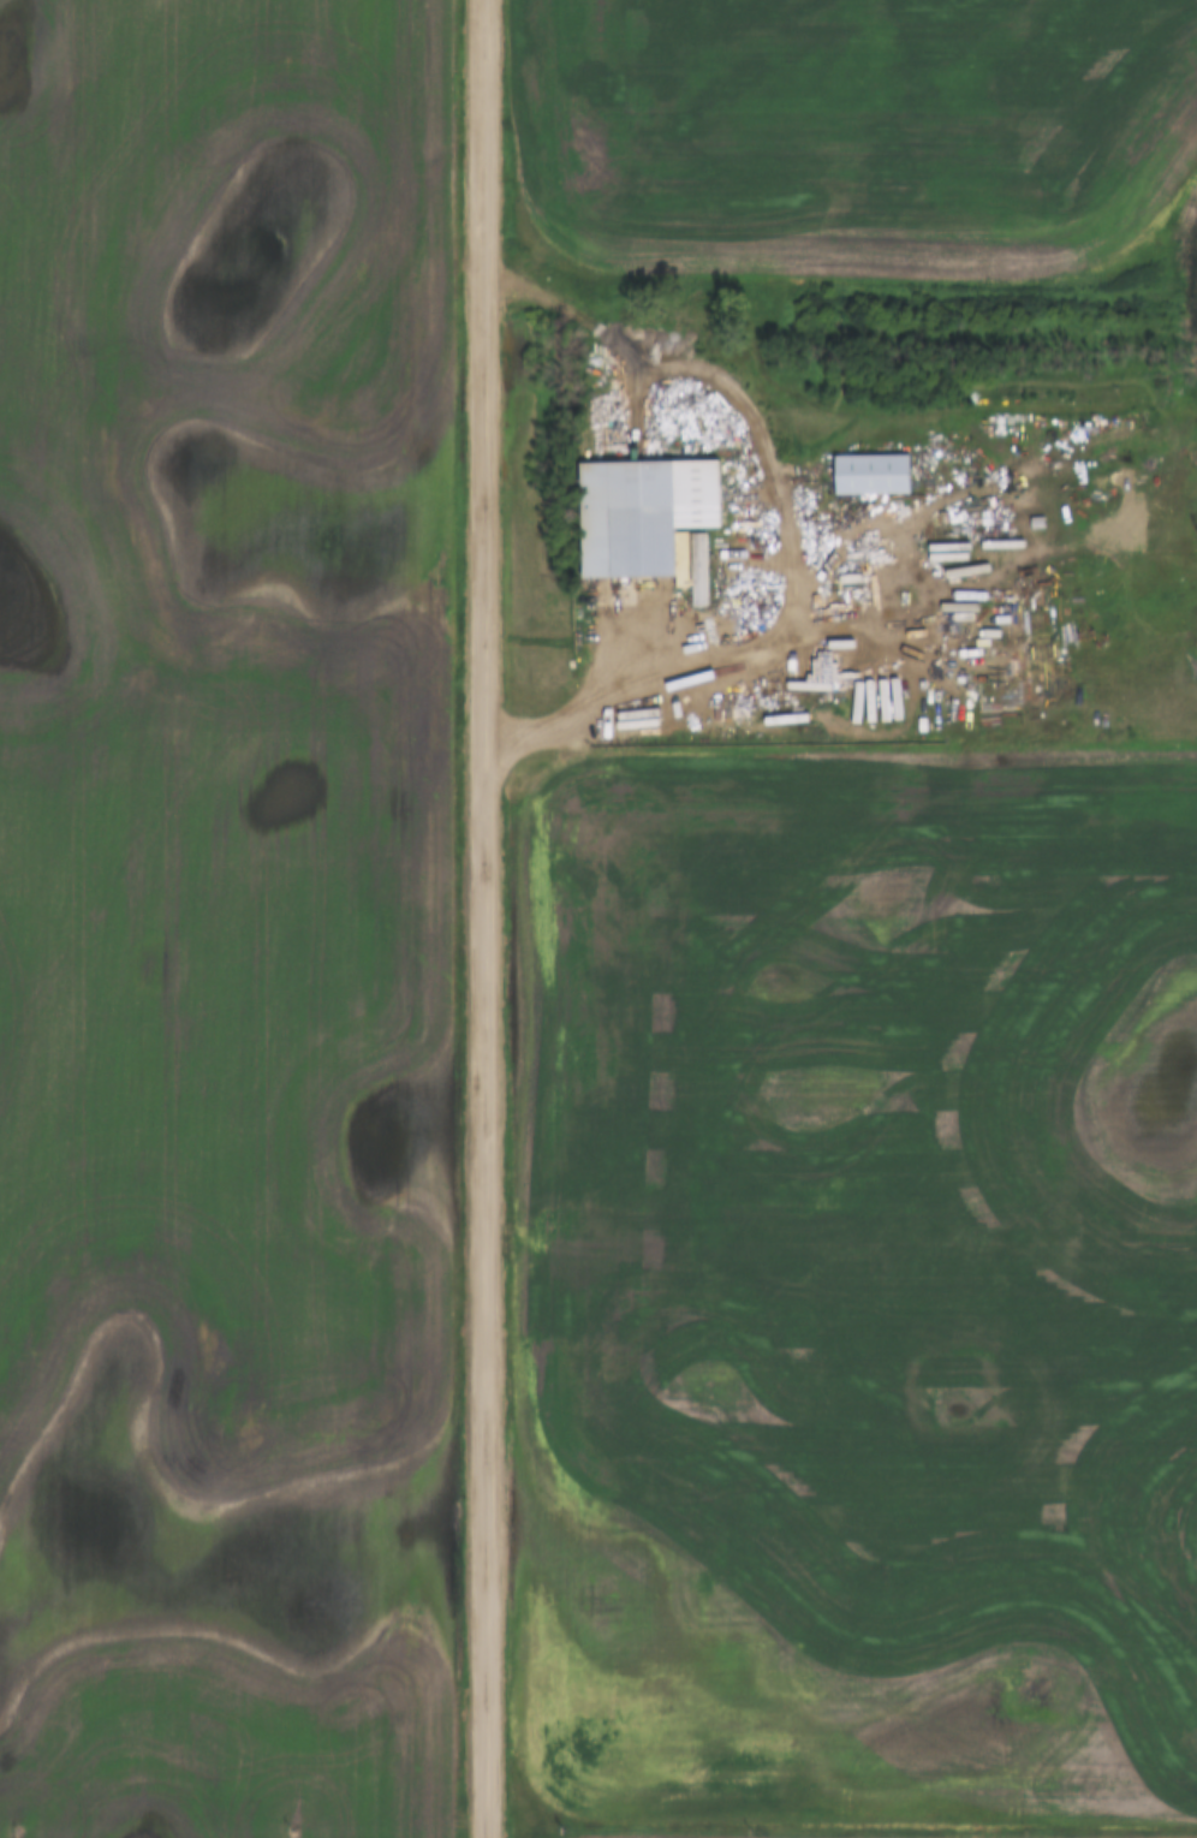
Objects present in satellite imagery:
building: (867, 472)
building: (635, 512)
road: (686, 691)
road: (482, 918)

